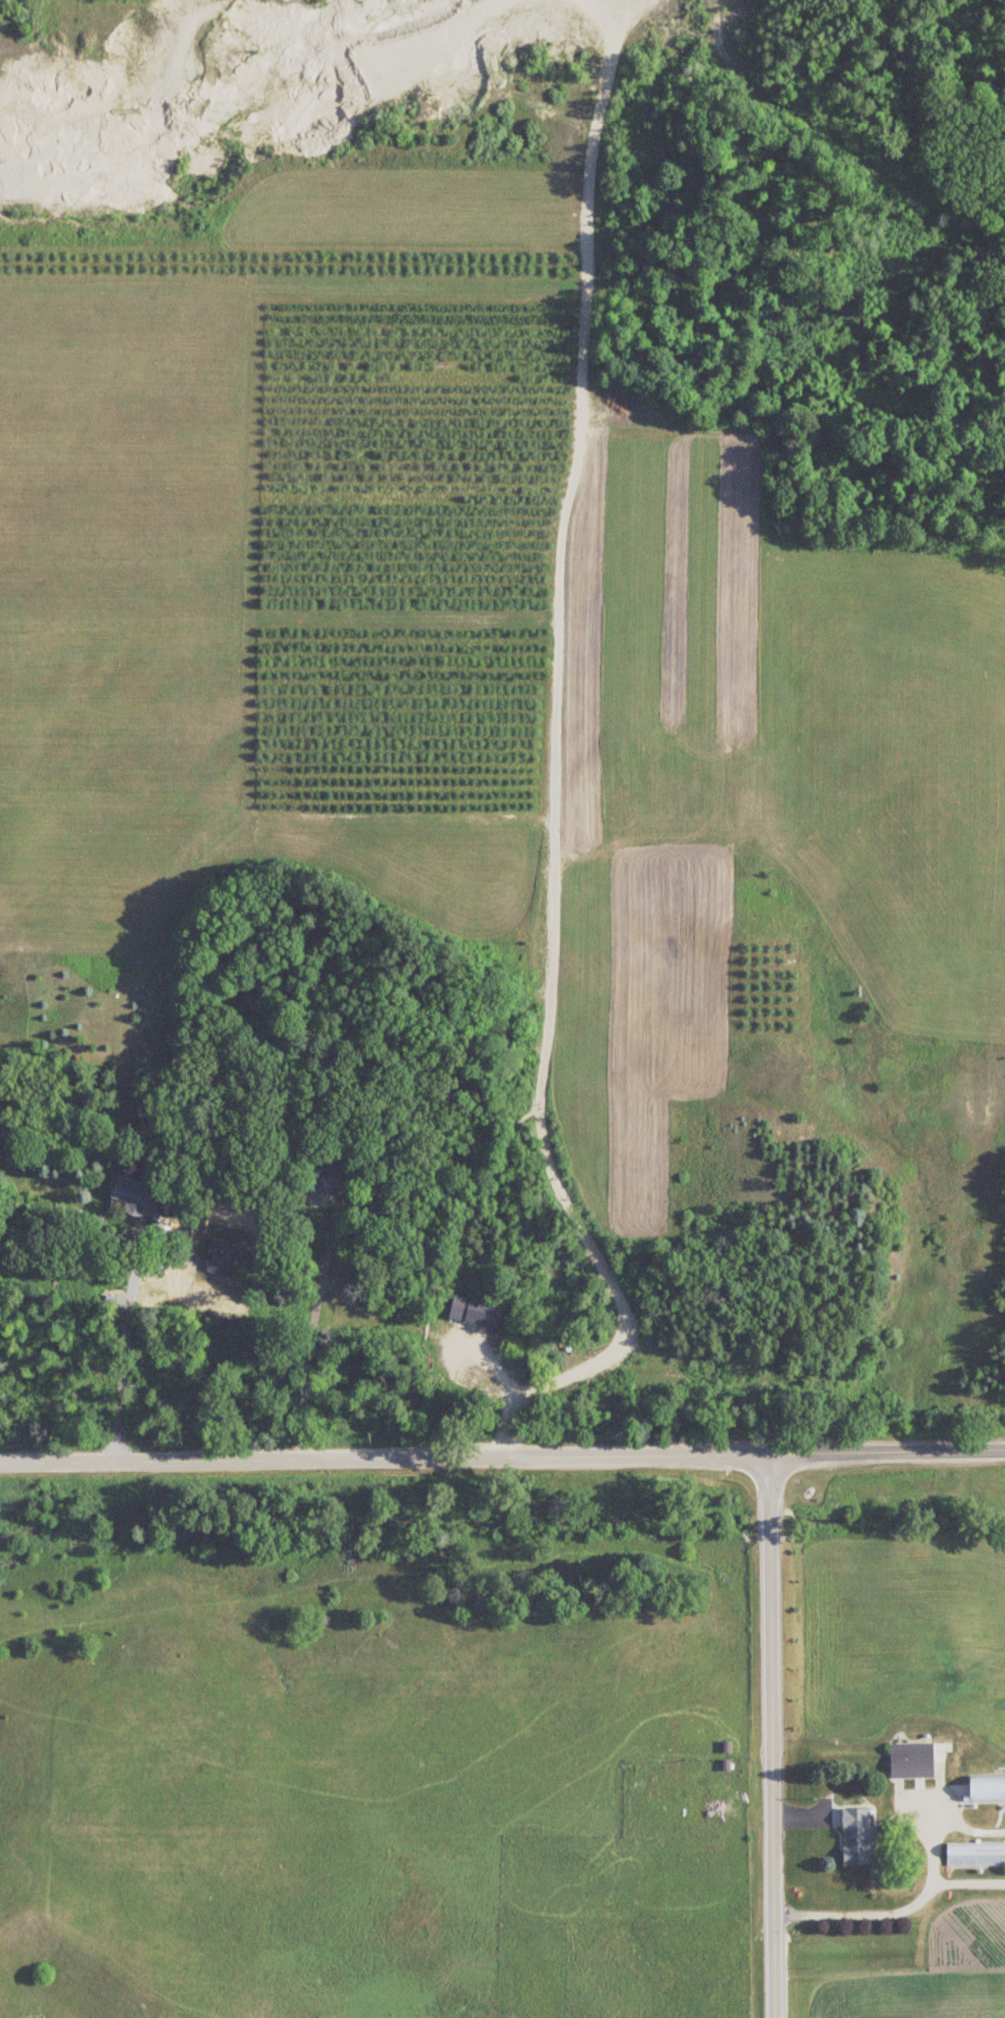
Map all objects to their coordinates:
road: (515, 795)
building: (330, 1183)
building: (137, 1198)
building: (378, 1203)
building: (485, 1314)
road: (314, 1322)
road: (125, 1353)
road: (502, 1450)
road: (768, 1732)
building: (912, 1761)
building: (987, 1789)
building: (859, 1837)
building: (976, 1854)
road: (891, 1911)

